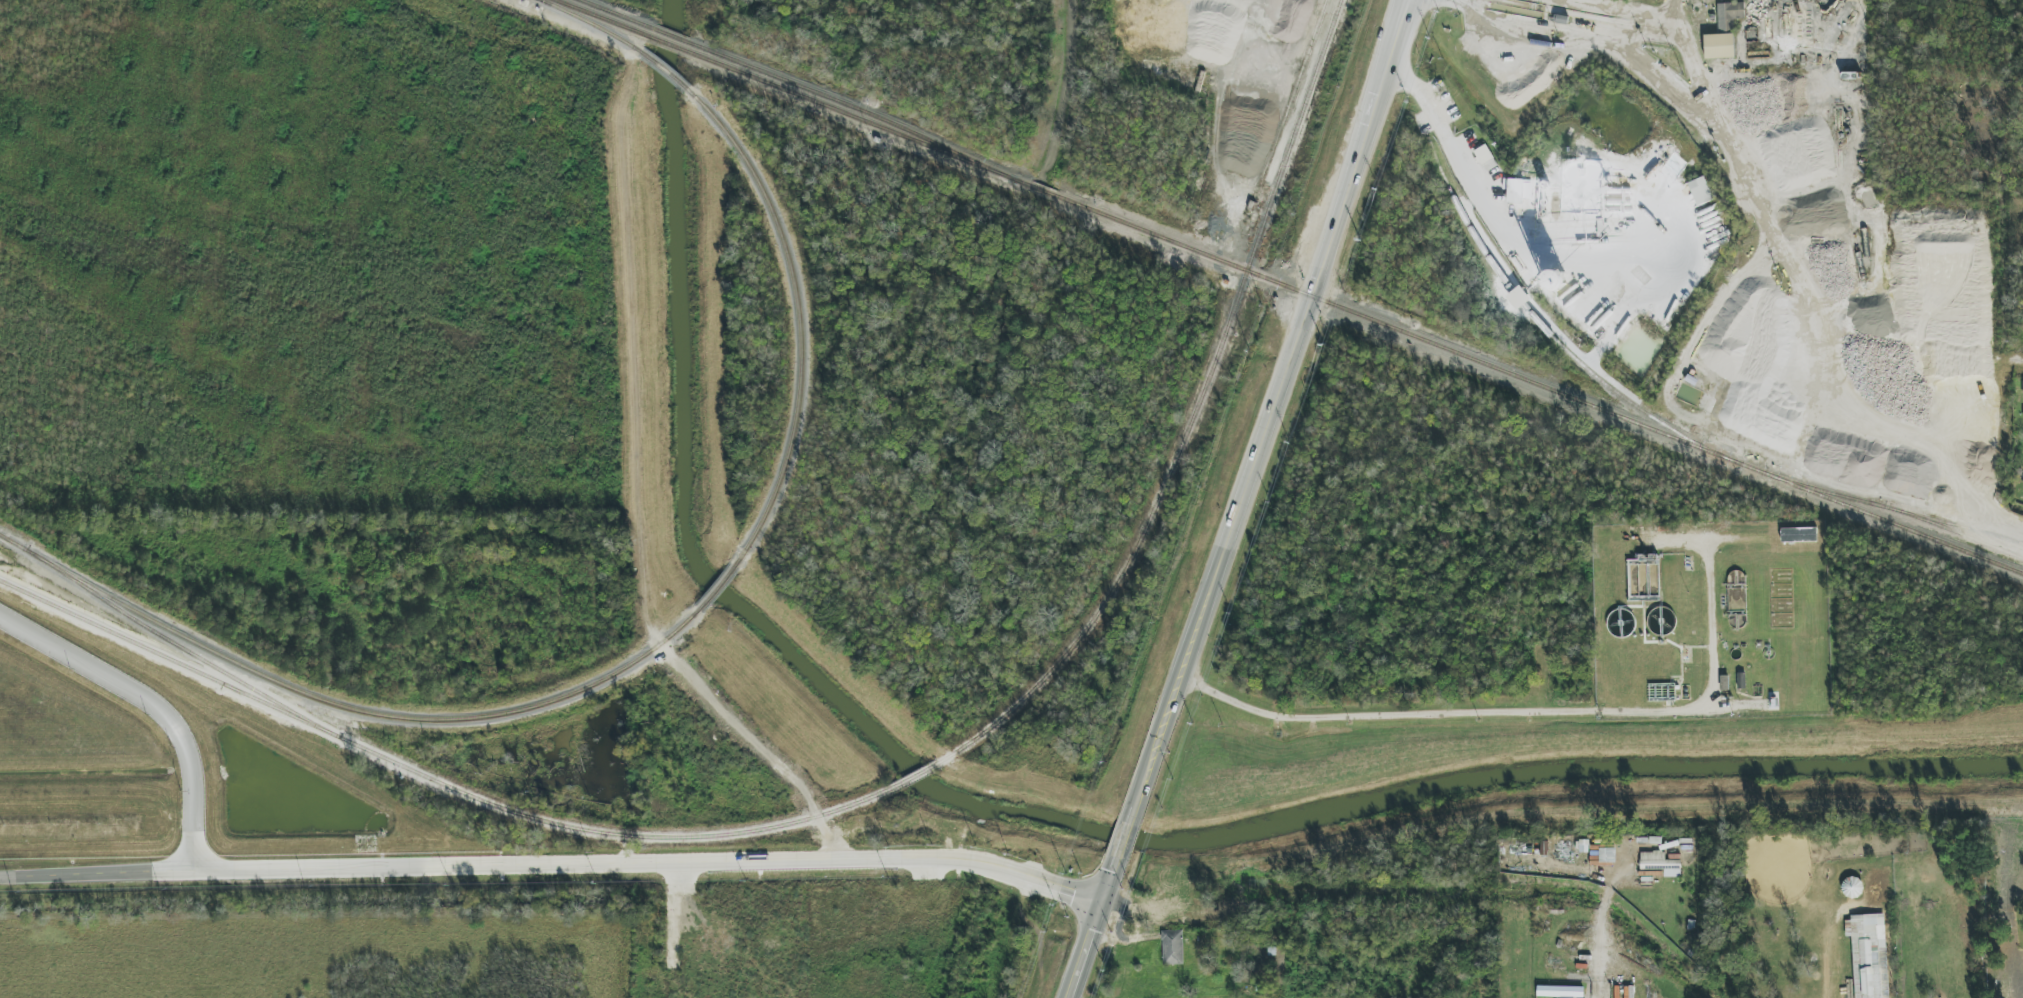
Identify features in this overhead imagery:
railway: (614, 16)
building: (1729, 16)
railway: (603, 20)
railway: (592, 25)
road: (1074, 33)
railway: (672, 38)
railway: (672, 46)
building: (1719, 46)
railway: (665, 72)
railway: (866, 115)
railway: (864, 124)
building: (1485, 158)
road: (1464, 160)
building: (1515, 191)
building: (1700, 191)
railway: (1265, 211)
railway: (1143, 231)
road: (1627, 260)
railway: (1333, 305)
railway: (798, 319)
railway: (1537, 319)
building: (2022, 383)
road: (1270, 412)
railway: (1722, 456)
railway: (1926, 521)
railway: (1980, 535)
railway: (11, 541)
railway: (717, 588)
railway: (1096, 617)
road: (153, 705)
railway: (357, 710)
road: (1523, 714)
railway: (916, 777)
railway: (433, 783)
road: (1123, 842)
road: (553, 864)
building: (1660, 864)
building: (1852, 888)
road: (1603, 903)
road: (1091, 929)
building: (1172, 947)
building: (1868, 954)
building: (1560, 992)

